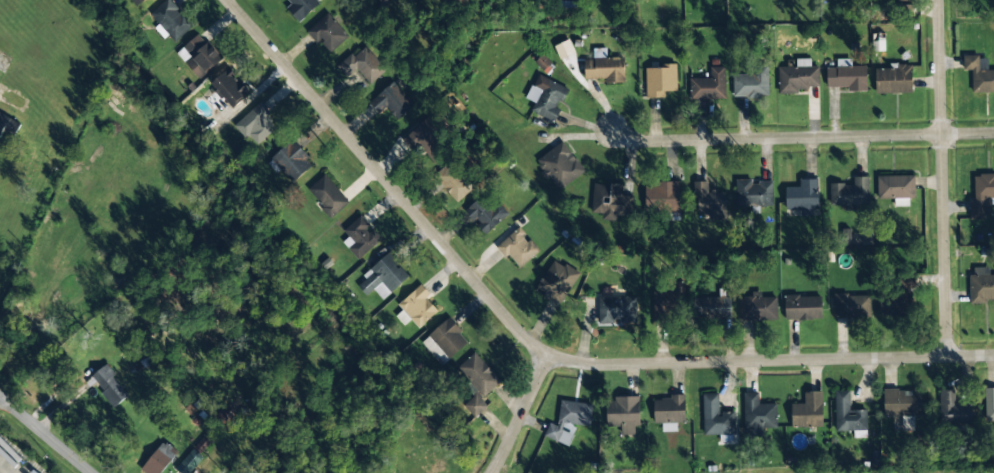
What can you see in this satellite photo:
building: (644, 0)
building: (902, 0)
building: (467, 1)
building: (136, 2)
building: (384, 3)
building: (303, 6)
building: (171, 19)
building: (327, 33)
building: (202, 53)
building: (362, 64)
building: (604, 69)
building: (978, 75)
building: (846, 78)
building: (798, 79)
building: (660, 80)
building: (894, 80)
building: (751, 83)
building: (709, 85)
building: (230, 88)
building: (549, 99)
building: (393, 102)
road: (941, 120)
building: (256, 123)
building: (8, 124)
road: (800, 138)
building: (427, 143)
building: (292, 161)
building: (560, 165)
building: (452, 181)
building: (896, 186)
building: (850, 192)
building: (752, 193)
building: (982, 194)
building: (327, 196)
building: (662, 196)
building: (803, 197)
building: (708, 199)
building: (610, 200)
building: (484, 214)
building: (361, 237)
building: (518, 247)
building: (384, 275)
building: (557, 280)
building: (982, 287)
building: (898, 299)
road: (946, 299)
building: (669, 302)
building: (417, 306)
building: (851, 306)
building: (713, 307)
building: (803, 307)
building: (757, 308)
building: (617, 309)
building: (447, 338)
road: (535, 344)
building: (478, 381)
building: (109, 386)
building: (989, 403)
building: (902, 404)
building: (669, 409)
building: (809, 410)
building: (953, 410)
building: (228, 412)
road: (520, 413)
building: (623, 413)
building: (847, 414)
building: (758, 415)
building: (715, 416)
building: (568, 420)
road: (43, 434)
building: (162, 457)
parking lot: (15, 460)
building: (190, 461)

